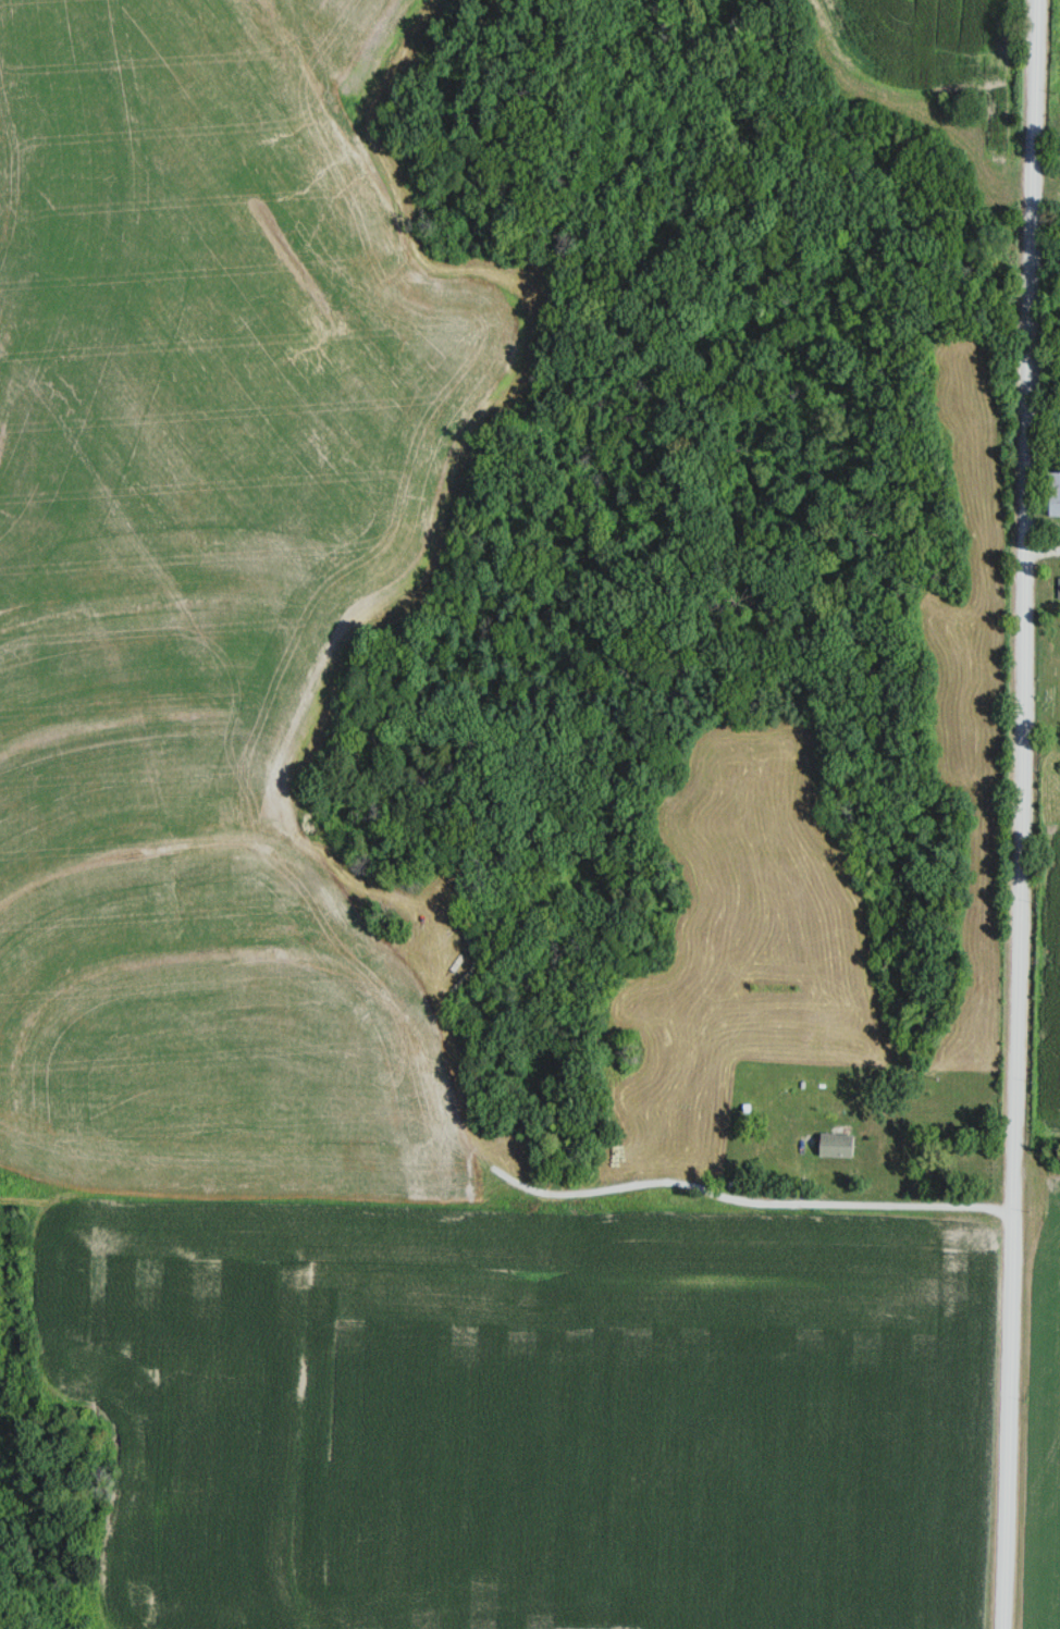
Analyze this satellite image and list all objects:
building: (1055, 492)
road: (1041, 546)
building: (1059, 584)
road: (1022, 814)
building: (840, 1145)
crop: (521, 1415)
crop: (1046, 1419)

